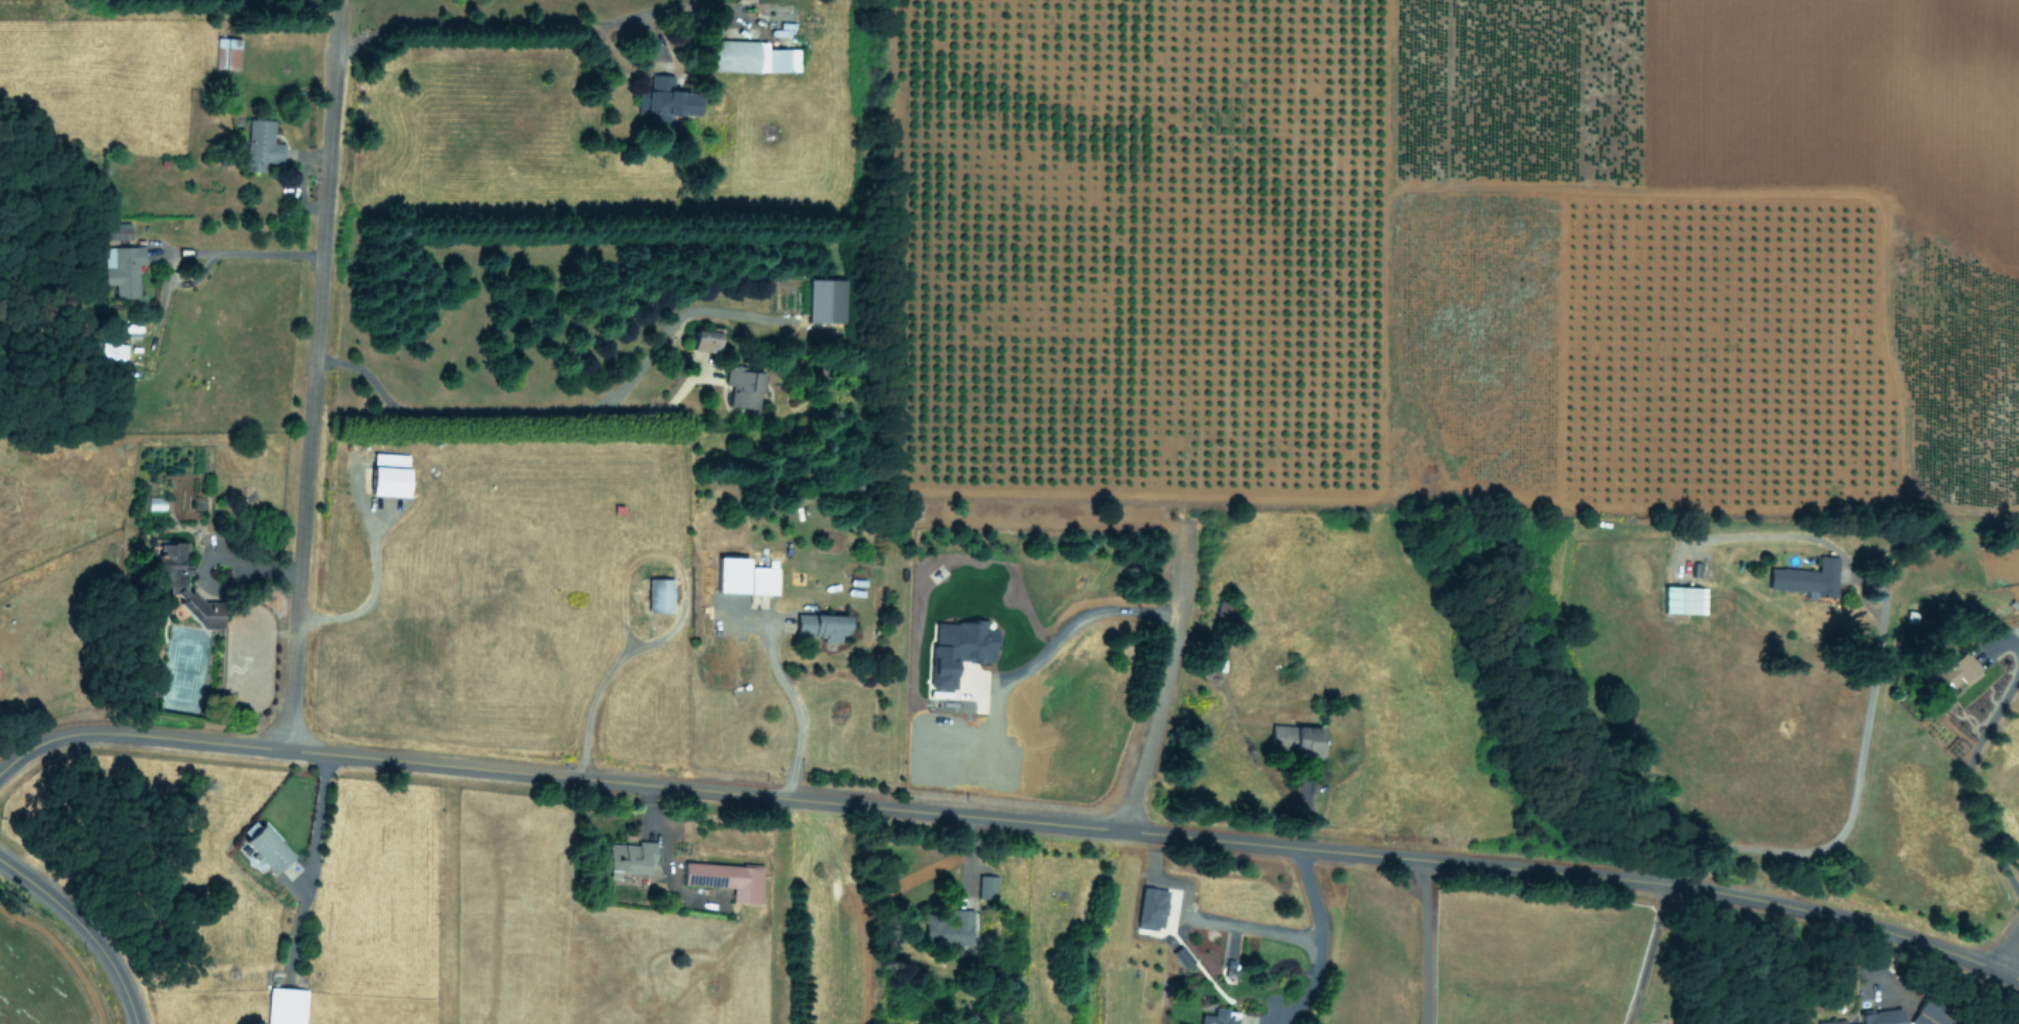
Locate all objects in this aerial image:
road: (541, 20)
building: (227, 52)
building: (753, 56)
building: (667, 98)
building: (263, 144)
building: (120, 230)
road: (263, 257)
building: (122, 268)
building: (827, 300)
building: (707, 340)
building: (112, 351)
road: (312, 374)
building: (745, 388)
road: (504, 407)
building: (390, 474)
road: (207, 555)
road: (269, 571)
building: (734, 575)
building: (1807, 577)
building: (764, 580)
building: (172, 583)
road: (375, 589)
building: (660, 595)
building: (1685, 598)
road: (1076, 623)
building: (822, 626)
building: (960, 648)
building: (1959, 670)
road: (1165, 677)
road: (599, 687)
road: (801, 714)
building: (1297, 737)
road: (1967, 768)
road: (1853, 799)
road: (1010, 818)
road: (316, 824)
building: (269, 850)
building: (630, 858)
building: (728, 879)
building: (987, 886)
building: (1153, 907)
road: (1206, 918)
building: (949, 926)
road: (85, 927)
road: (1424, 941)
road: (1319, 944)
road: (2007, 947)
road: (1652, 953)
building: (1184, 956)
building: (287, 1005)
building: (1220, 1017)
building: (1883, 1017)
building: (1833, 1022)

